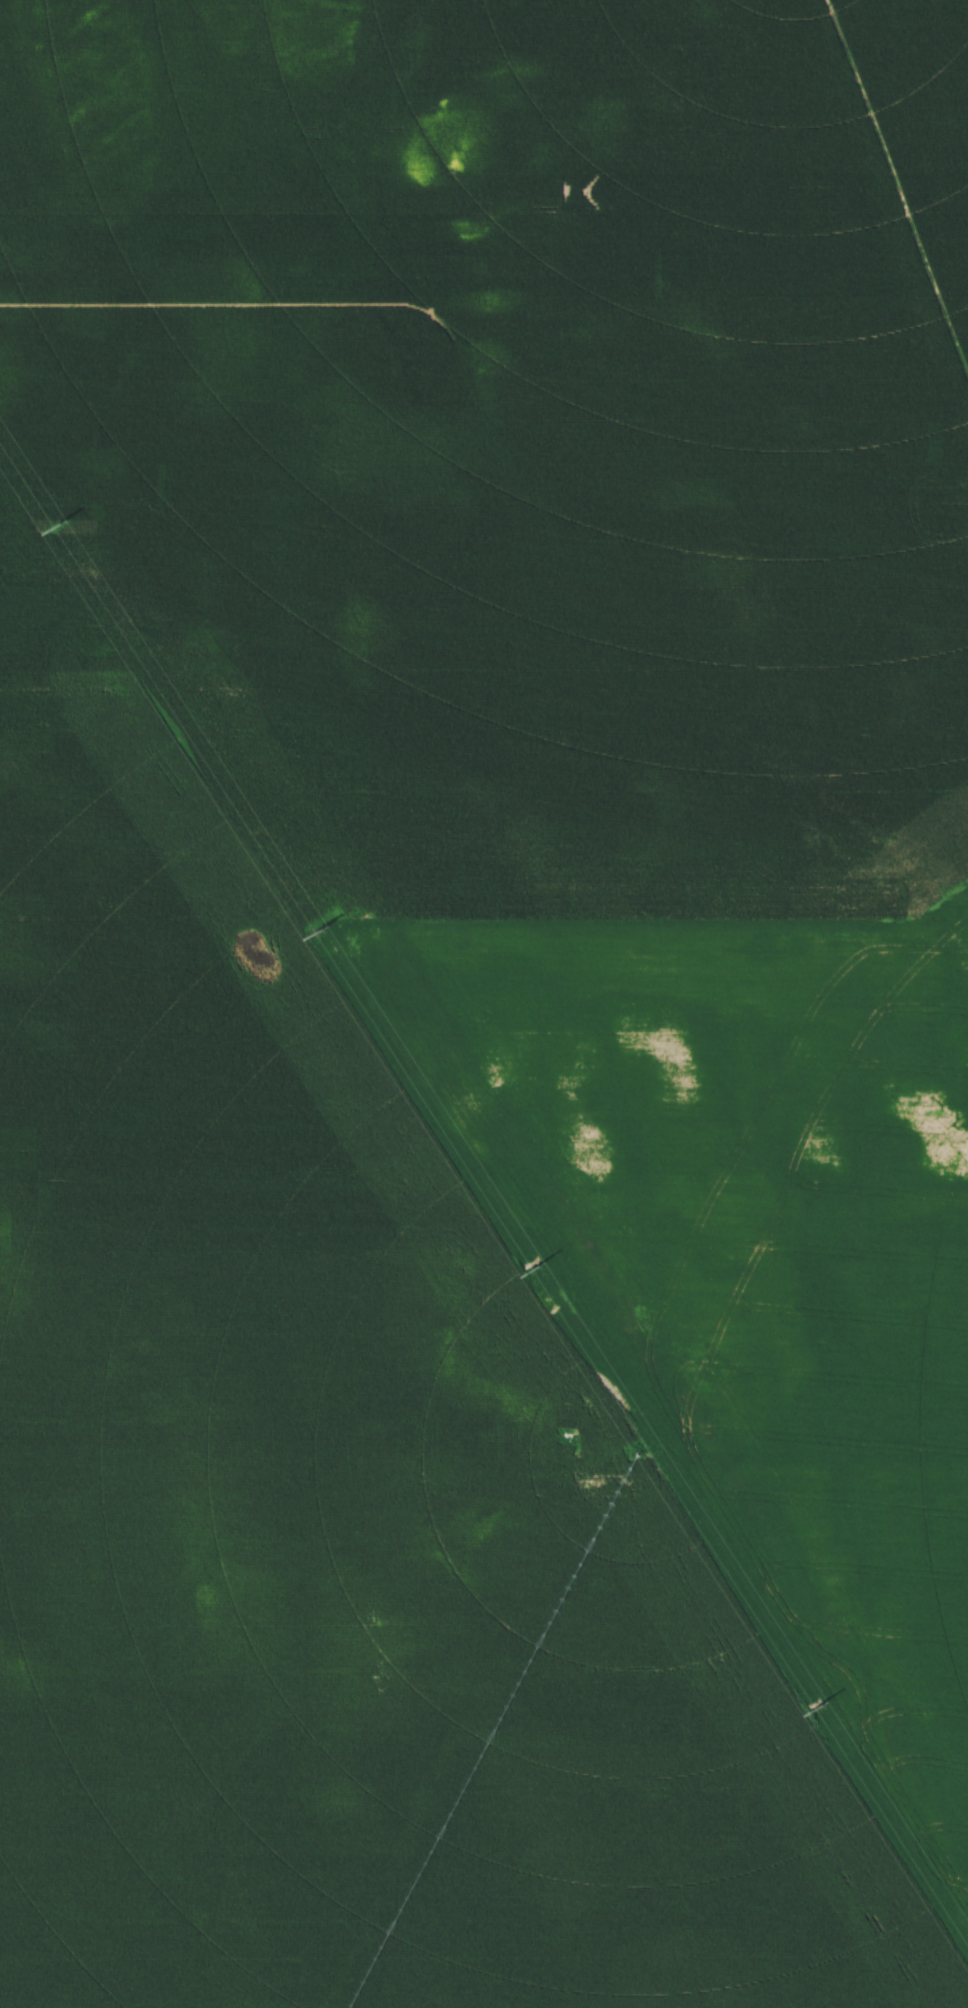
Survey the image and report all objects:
power tower: (57, 528)
power tower: (316, 934)
power tower: (535, 1271)
power tower: (815, 1708)

